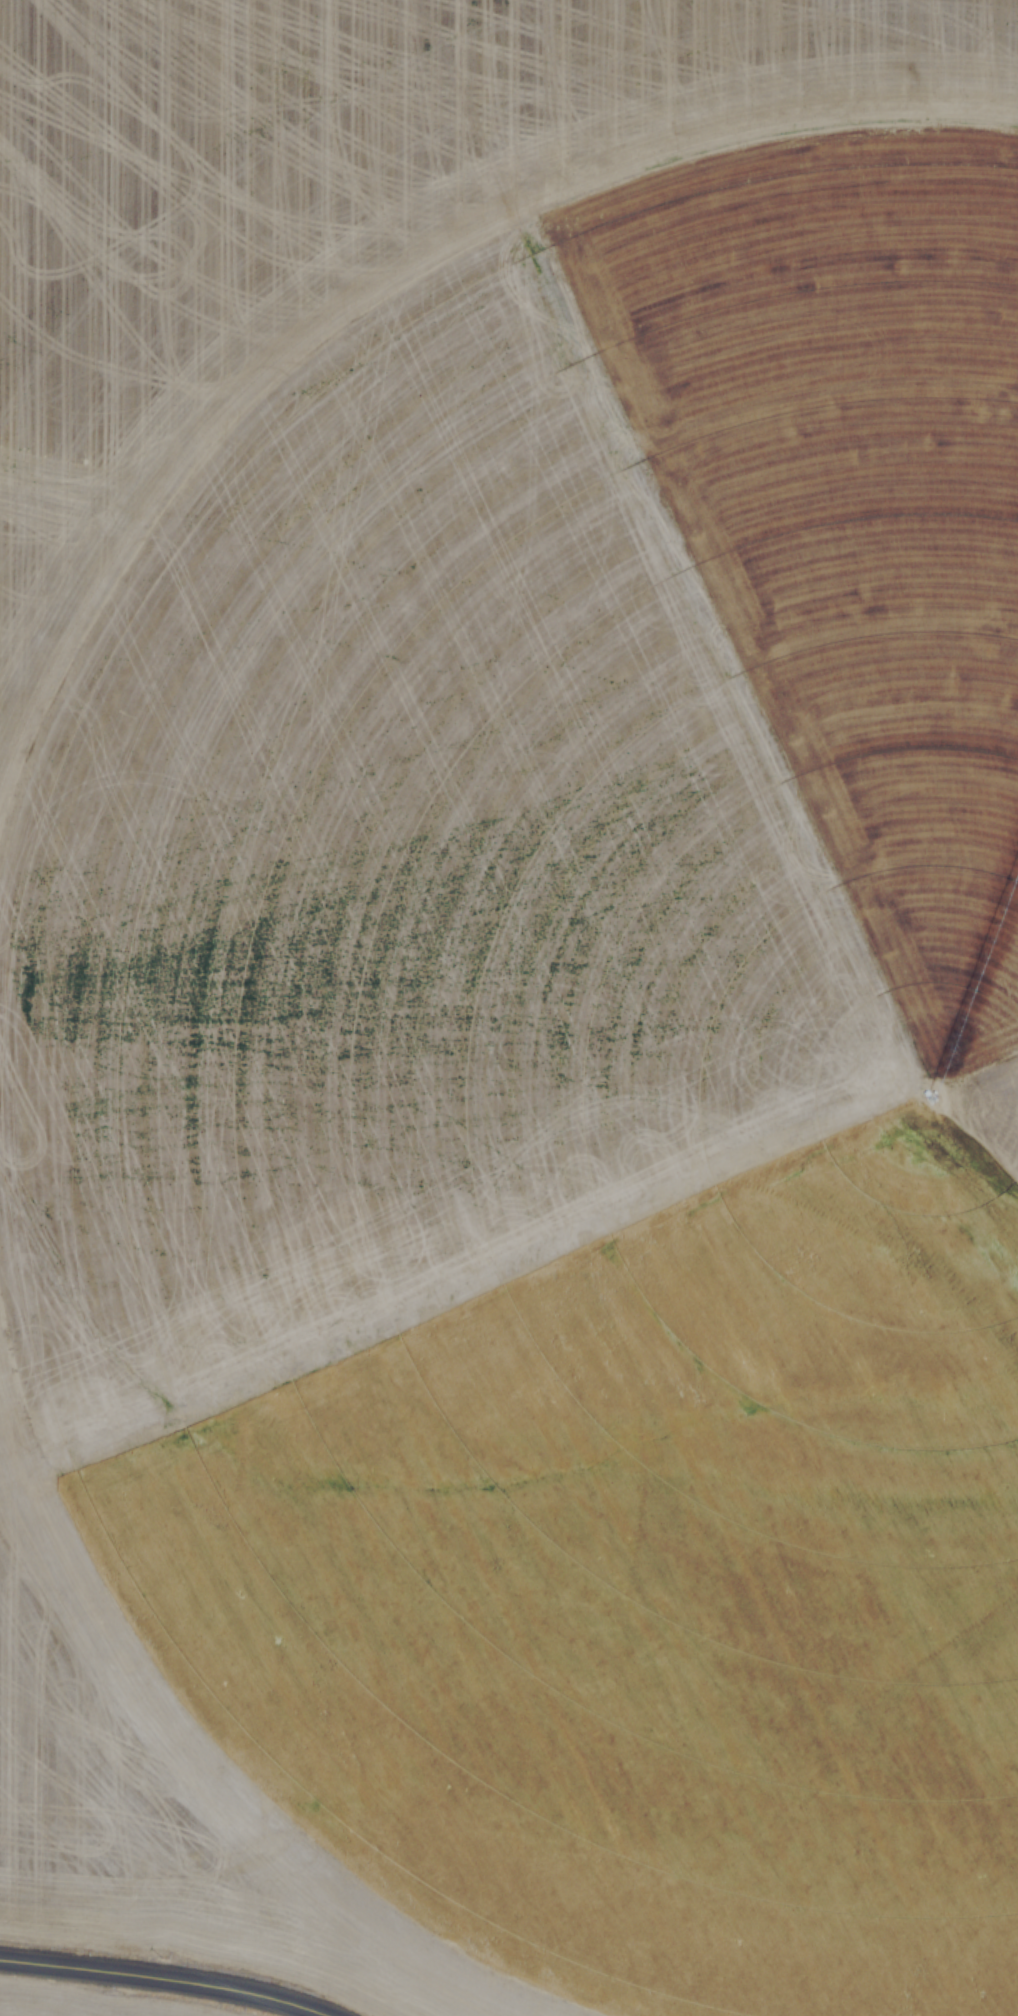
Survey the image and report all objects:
road: (171, 1969)

